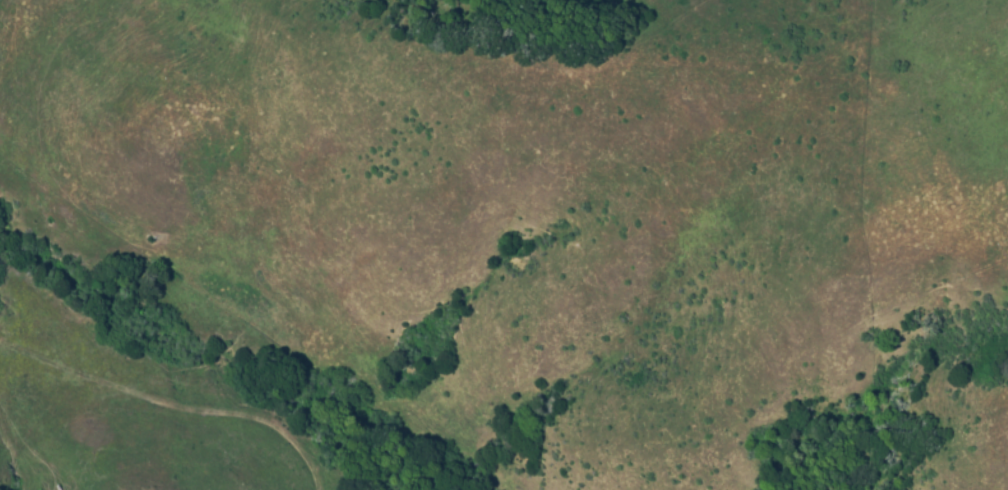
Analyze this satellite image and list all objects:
road: (171, 406)

